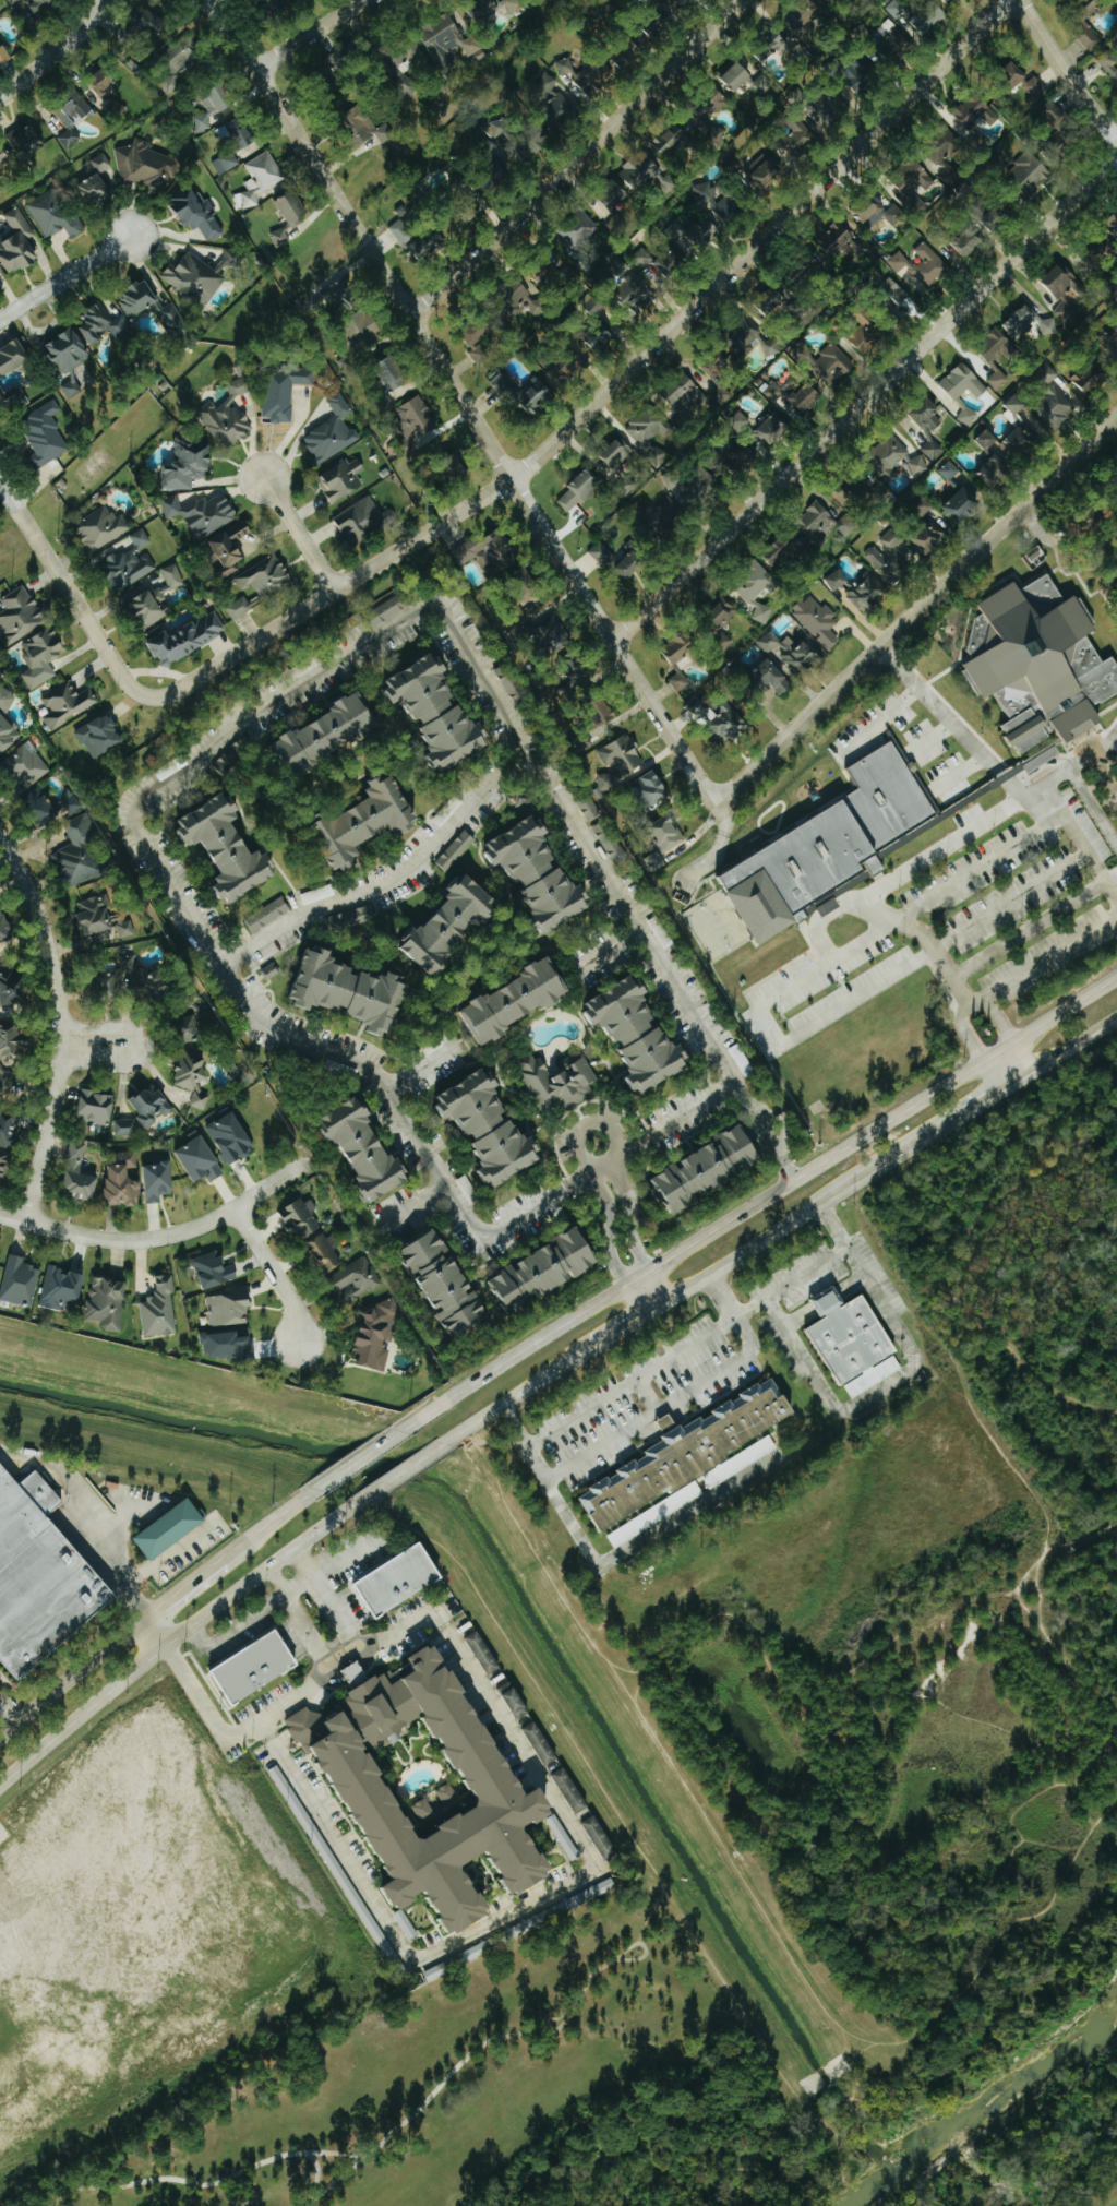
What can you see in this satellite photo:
building: (13, 1)
building: (41, 5)
building: (515, 5)
building: (277, 8)
building: (484, 9)
building: (1095, 9)
building: (914, 15)
building: (153, 23)
road: (310, 35)
building: (893, 36)
building: (1090, 38)
building: (452, 47)
road: (58, 50)
building: (796, 52)
building: (3, 55)
building: (183, 56)
road: (1064, 71)
building: (588, 75)
building: (740, 76)
building: (104, 82)
building: (764, 84)
building: (1036, 88)
building: (551, 98)
building: (797, 99)
building: (213, 107)
building: (977, 112)
building: (1055, 112)
building: (73, 119)
building: (369, 127)
building: (501, 128)
building: (243, 132)
building: (800, 138)
building: (671, 139)
building: (27, 141)
building: (4, 156)
road: (576, 158)
building: (950, 159)
building: (226, 163)
building: (145, 165)
building: (766, 170)
building: (1033, 170)
building: (500, 171)
building: (648, 176)
building: (915, 178)
building: (260, 179)
building: (2, 190)
building: (95, 192)
building: (618, 199)
building: (719, 199)
building: (293, 207)
building: (196, 212)
building: (887, 213)
building: (56, 214)
building: (580, 230)
building: (281, 238)
building: (970, 240)
building: (844, 242)
building: (17, 243)
building: (427, 247)
building: (922, 265)
building: (801, 271)
road: (67, 276)
building: (201, 276)
building: (627, 287)
building: (897, 293)
building: (344, 295)
building: (1067, 295)
building: (529, 299)
building: (140, 300)
building: (594, 305)
building: (173, 321)
building: (1021, 322)
building: (107, 326)
building: (1049, 326)
building: (365, 331)
building: (865, 331)
building: (599, 341)
building: (752, 342)
building: (479, 345)
building: (70, 350)
building: (14, 360)
building: (997, 360)
building: (830, 365)
building: (347, 366)
building: (714, 368)
building: (393, 373)
building: (1050, 374)
building: (1092, 378)
building: (964, 383)
building: (72, 386)
road: (609, 387)
building: (285, 392)
building: (526, 392)
building: (685, 396)
road: (865, 398)
road: (461, 400)
building: (1016, 408)
building: (1057, 408)
building: (229, 417)
building: (969, 417)
building: (417, 418)
building: (737, 422)
building: (648, 426)
building: (929, 428)
building: (1036, 429)
building: (333, 433)
building: (46, 434)
building: (988, 440)
building: (1021, 442)
building: (617, 453)
building: (657, 456)
building: (741, 458)
building: (898, 461)
building: (188, 466)
building: (998, 468)
building: (950, 470)
building: (343, 481)
building: (694, 486)
building: (579, 491)
building: (854, 496)
building: (922, 508)
building: (962, 508)
building: (204, 513)
building: (666, 514)
building: (363, 521)
building: (1081, 521)
building: (826, 524)
building: (103, 528)
road: (299, 534)
building: (230, 548)
building: (493, 552)
building: (783, 552)
building: (602, 553)
building: (889, 558)
building: (634, 560)
building: (129, 563)
building: (173, 576)
building: (527, 577)
building: (1116, 582)
building: (262, 584)
building: (756, 591)
road: (70, 594)
building: (151, 608)
building: (391, 609)
building: (722, 610)
road: (915, 611)
building: (21, 616)
building: (818, 621)
building: (545, 633)
building: (189, 640)
building: (686, 649)
building: (791, 652)
building: (41, 655)
building: (1035, 661)
building: (773, 677)
building: (681, 681)
building: (513, 682)
building: (7, 699)
road: (274, 699)
building: (68, 704)
road: (939, 710)
building: (442, 711)
building: (599, 715)
building: (719, 717)
road: (879, 722)
building: (332, 734)
building: (8, 735)
road: (930, 735)
building: (100, 736)
road: (1116, 739)
building: (623, 755)
building: (232, 760)
building: (27, 765)
road: (960, 768)
road: (1002, 776)
road: (1079, 783)
road: (1016, 787)
building: (653, 788)
building: (51, 807)
building: (370, 820)
building: (669, 833)
building: (611, 842)
building: (231, 846)
building: (822, 847)
building: (82, 851)
building: (457, 851)
road: (993, 858)
road: (1089, 859)
building: (658, 861)
building: (543, 873)
road: (900, 873)
road: (1109, 877)
road: (383, 882)
building: (319, 894)
road: (1010, 899)
building: (831, 906)
building: (268, 915)
building: (352, 918)
building: (116, 923)
building: (455, 923)
building: (5, 927)
road: (1026, 927)
road: (608, 949)
road: (828, 950)
road: (1043, 958)
building: (271, 971)
road: (804, 978)
building: (116, 983)
building: (153, 983)
building: (15, 987)
building: (353, 990)
road: (862, 992)
building: (519, 1000)
road: (996, 1016)
road: (59, 1025)
building: (192, 1027)
road: (965, 1033)
building: (644, 1034)
building: (14, 1042)
road: (92, 1046)
road: (1068, 1047)
building: (742, 1059)
road: (1010, 1065)
building: (194, 1070)
road: (419, 1070)
building: (560, 1083)
building: (201, 1100)
road: (983, 1100)
building: (154, 1106)
building: (96, 1107)
road: (688, 1111)
road: (585, 1123)
building: (125, 1128)
building: (494, 1128)
building: (8, 1130)
building: (233, 1137)
building: (369, 1148)
road: (625, 1153)
building: (202, 1160)
building: (3, 1167)
building: (711, 1169)
road: (790, 1171)
building: (80, 1174)
road: (585, 1178)
building: (159, 1181)
building: (124, 1182)
road: (418, 1202)
road: (757, 1204)
road: (630, 1213)
road: (801, 1213)
building: (304, 1218)
road: (610, 1225)
road: (160, 1237)
building: (327, 1251)
building: (550, 1268)
road: (813, 1268)
building: (216, 1269)
road: (273, 1273)
road: (635, 1274)
building: (357, 1280)
building: (21, 1281)
building: (449, 1285)
park: (1023, 1286)
building: (63, 1289)
road: (646, 1291)
building: (108, 1303)
building: (230, 1309)
building: (160, 1310)
road: (623, 1324)
building: (380, 1334)
building: (856, 1342)
road: (1017, 1359)
road: (724, 1371)
road: (630, 1384)
road: (879, 1392)
road: (517, 1394)
road: (648, 1397)
road: (588, 1458)
road: (357, 1459)
building: (692, 1459)
road: (401, 1474)
road: (269, 1521)
building: (171, 1529)
road: (1079, 1536)
road: (642, 1540)
road: (533, 1551)
road: (172, 1553)
building: (37, 1576)
building: (403, 1579)
road: (299, 1586)
road: (185, 1588)
road: (328, 1599)
road: (299, 1619)
road: (732, 1623)
road: (151, 1627)
road: (236, 1630)
road: (175, 1637)
building: (484, 1653)
road: (1058, 1658)
building: (259, 1667)
road: (72, 1679)
building: (516, 1700)
road: (8, 1715)
road: (1005, 1717)
building: (309, 1727)
building: (541, 1743)
building: (440, 1790)
building: (570, 1791)
road: (1020, 1821)
building: (601, 1837)
building: (566, 1841)
road: (1065, 1863)
road: (569, 1881)
road: (656, 1882)
building: (604, 1887)
building: (408, 1925)
river: (986, 2102)
road: (230, 2172)

